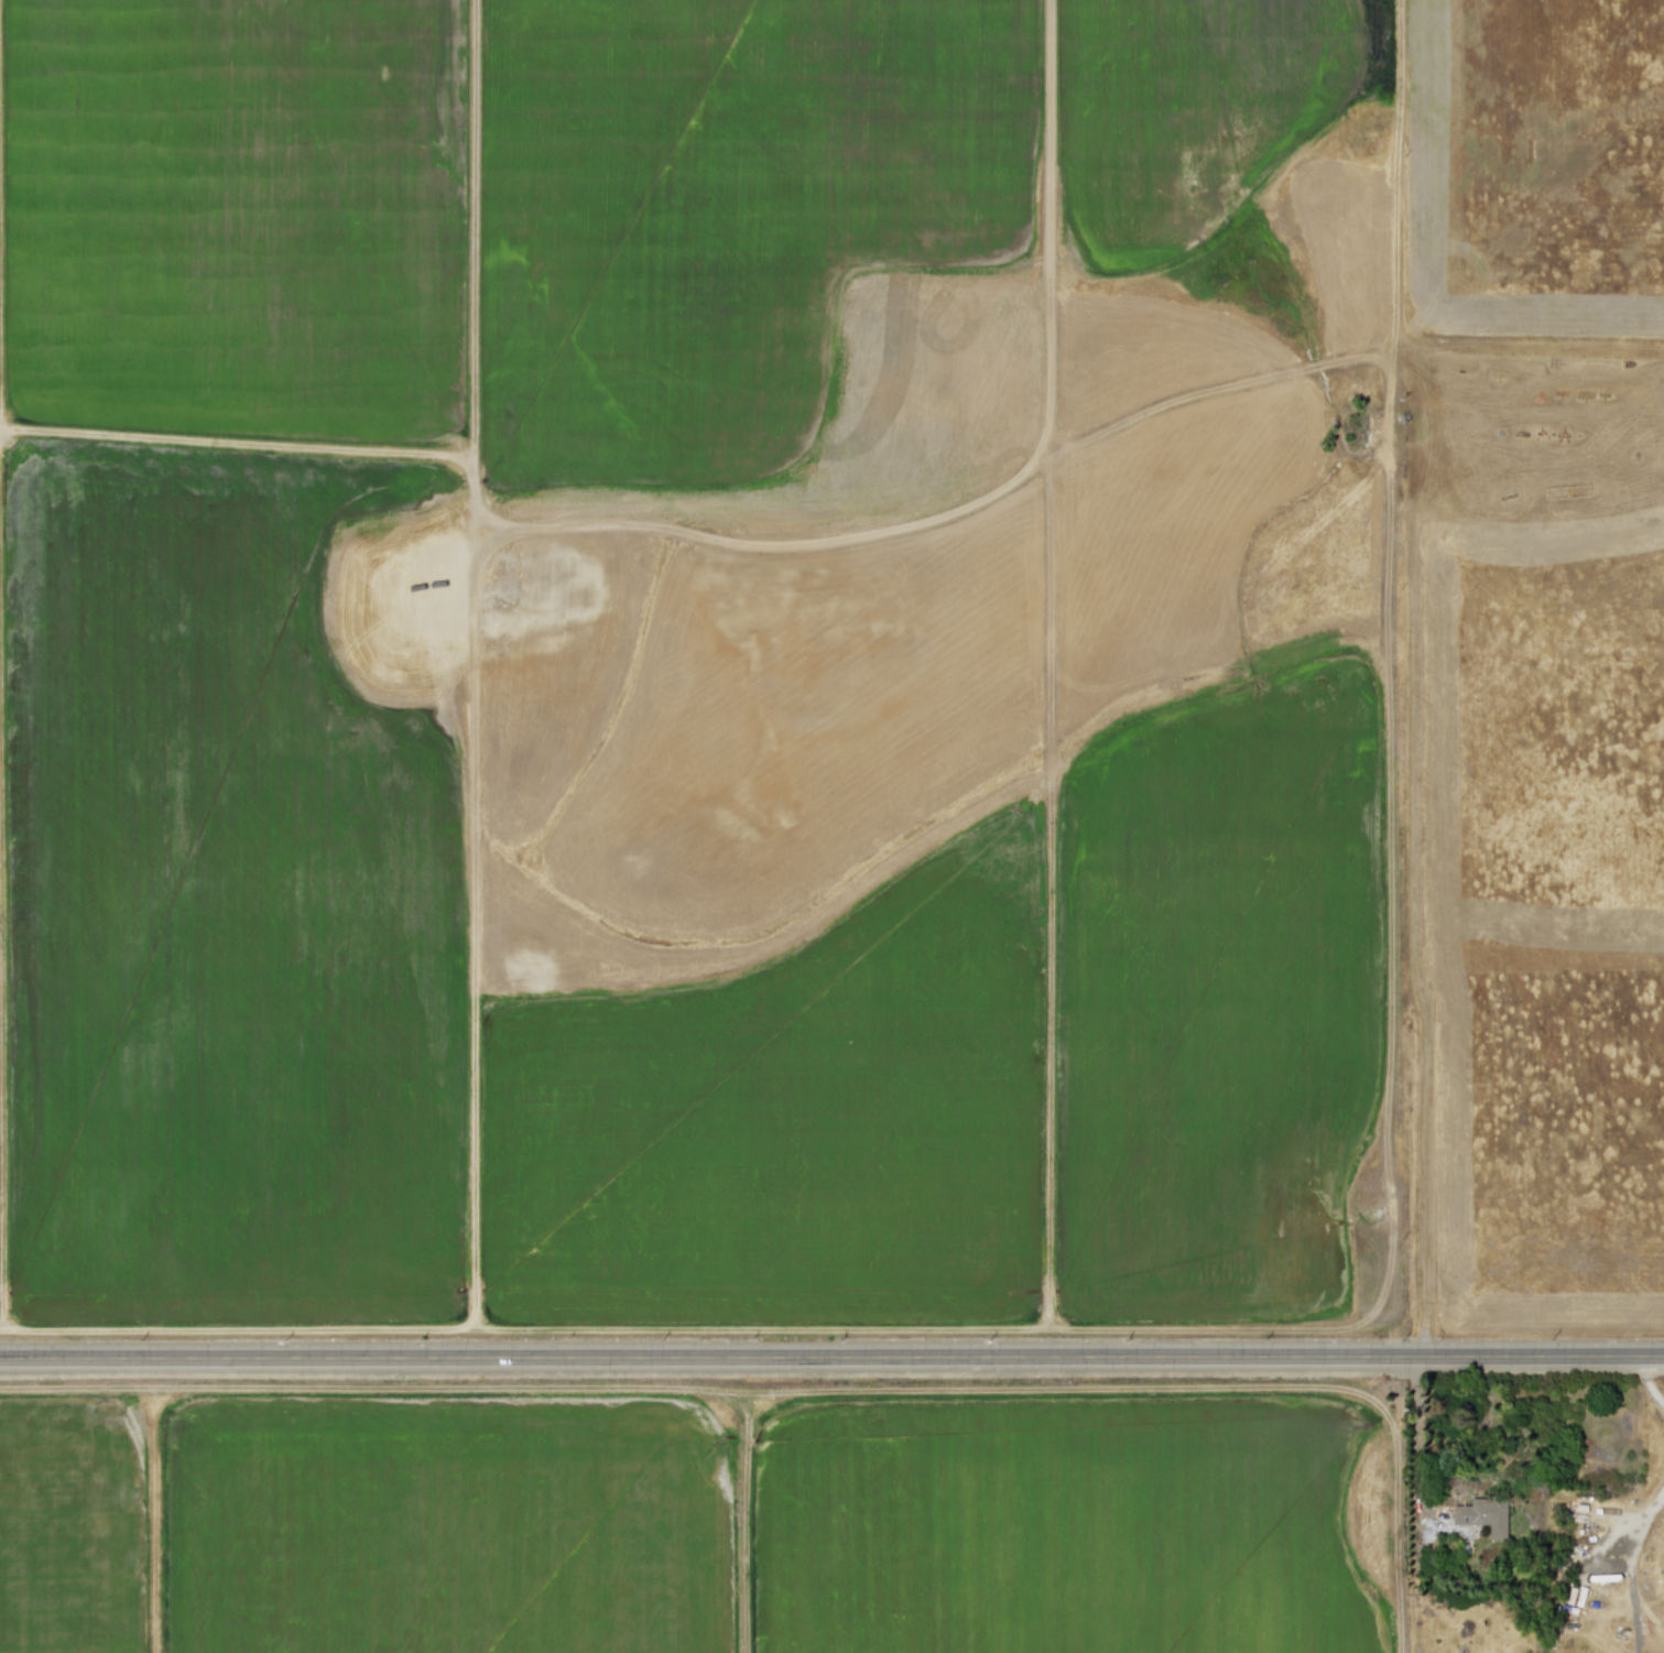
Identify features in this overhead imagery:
road: (831, 1358)
road: (1417, 1428)
building: (1483, 1515)

